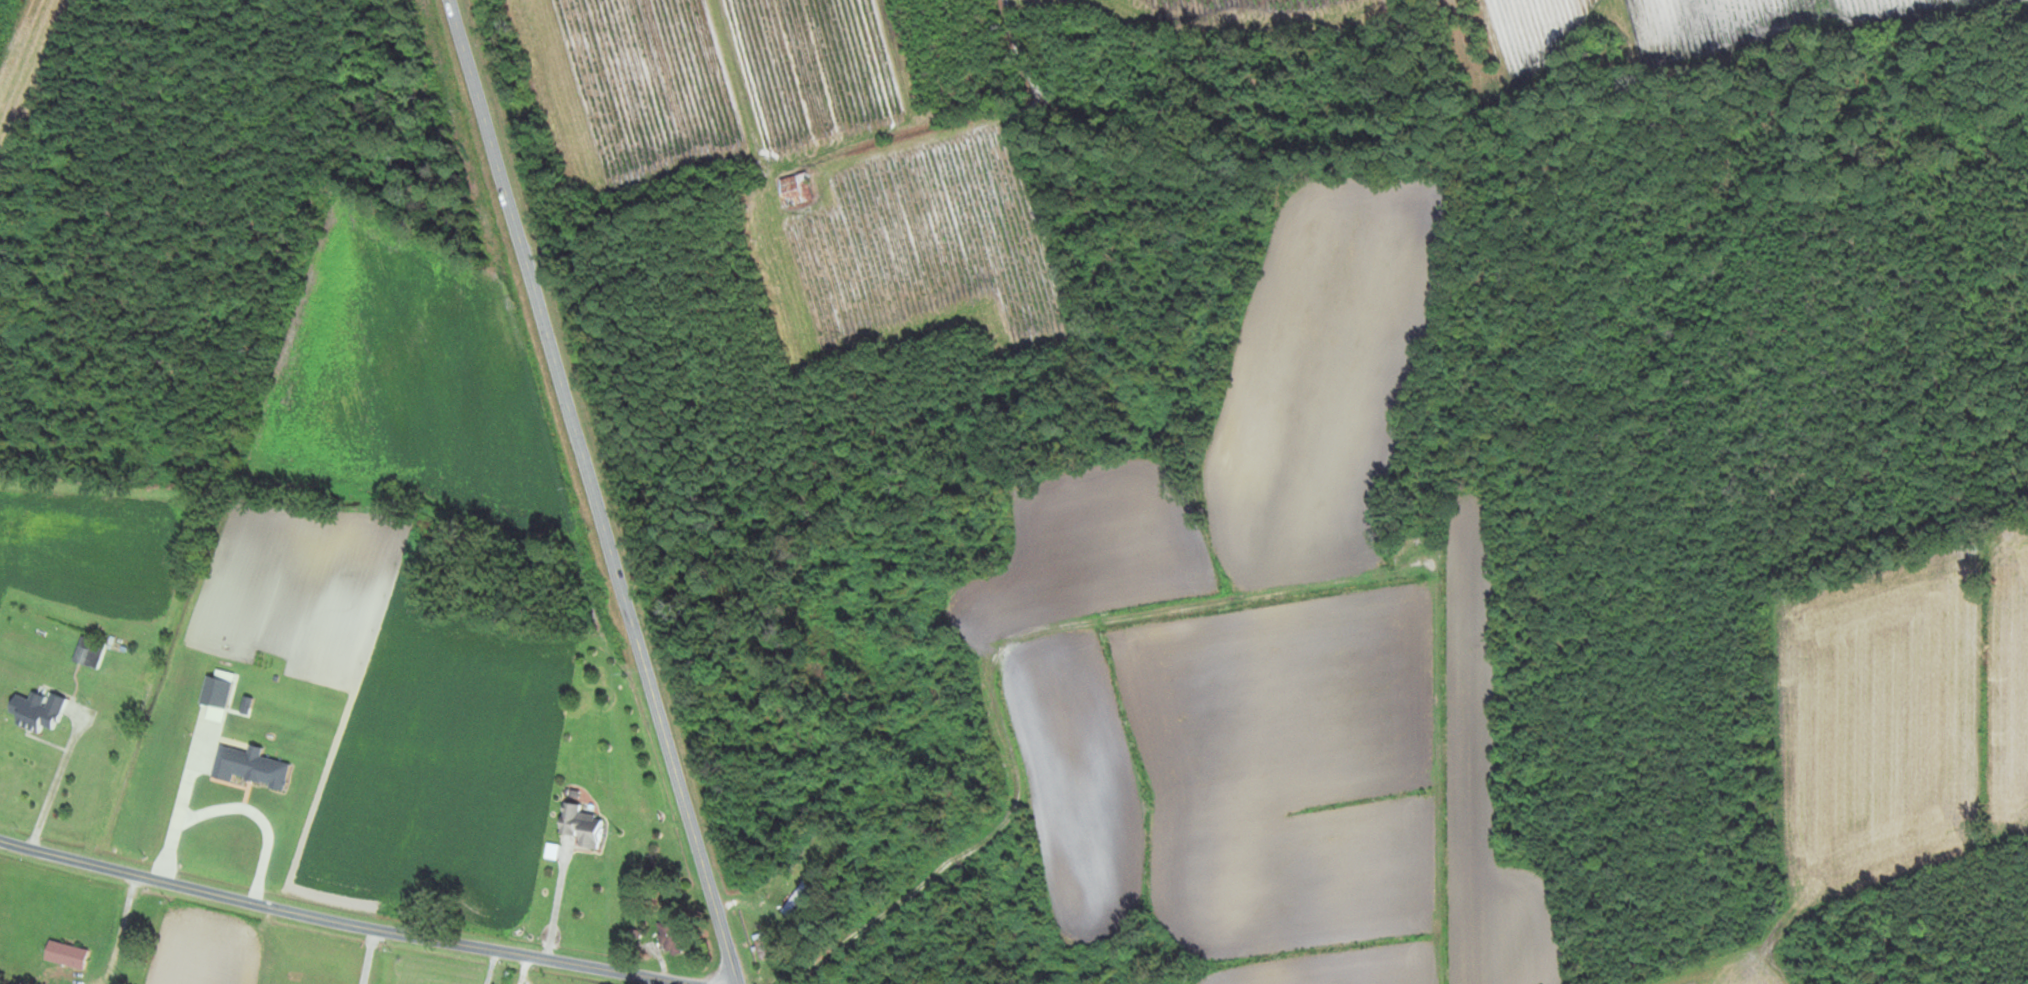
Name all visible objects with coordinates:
building: (794, 189)
road: (595, 491)
building: (81, 655)
building: (36, 711)
building: (579, 827)
building: (793, 899)
road: (338, 919)
building: (667, 938)
building: (762, 945)
building: (64, 955)

